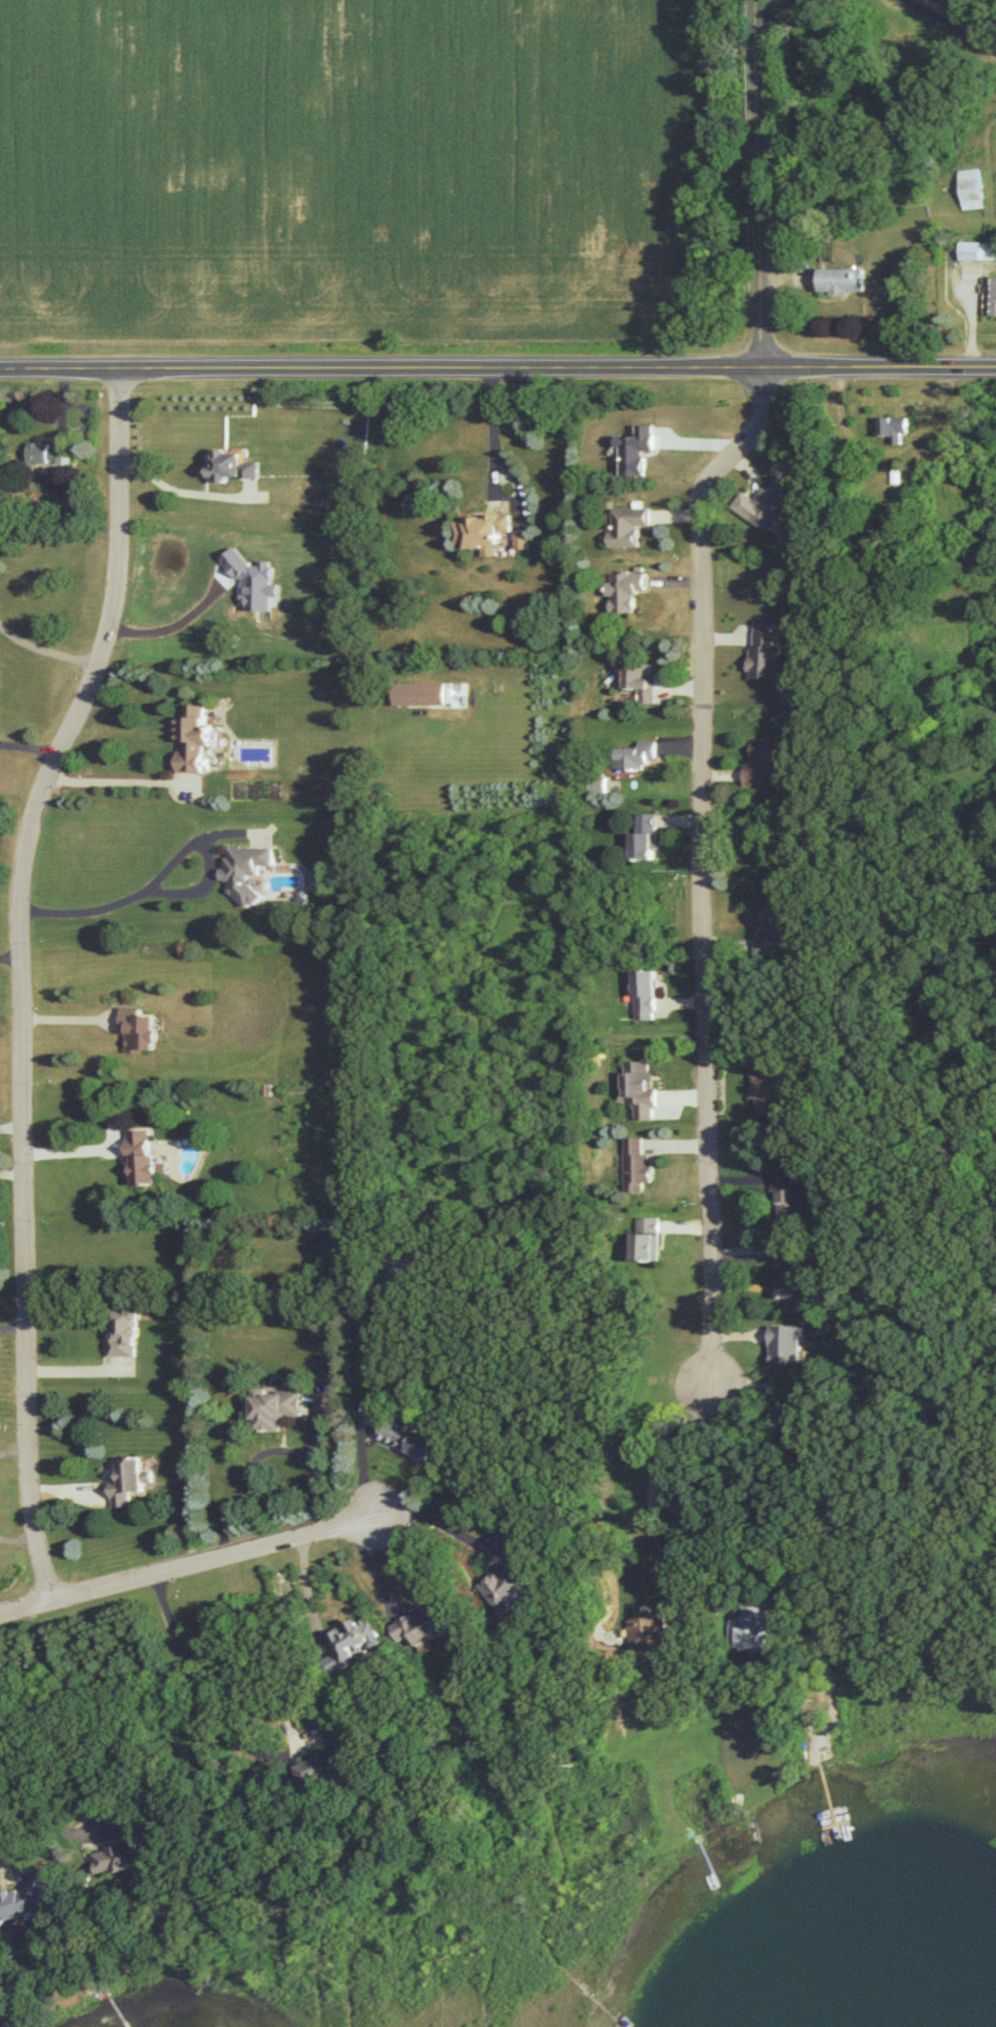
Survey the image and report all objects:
road: (764, 182)
building: (970, 187)
building: (977, 250)
building: (841, 279)
building: (989, 294)
road: (497, 365)
building: (636, 449)
building: (45, 452)
building: (233, 465)
road: (490, 475)
road: (182, 491)
building: (762, 502)
building: (628, 524)
building: (481, 530)
building: (521, 538)
building: (625, 590)
road: (46, 648)
building: (763, 650)
building: (639, 681)
building: (412, 692)
building: (195, 737)
road: (29, 746)
building: (635, 754)
building: (766, 763)
road: (113, 778)
building: (596, 783)
building: (645, 836)
road: (704, 863)
road: (163, 870)
building: (247, 870)
building: (779, 928)
road: (11, 956)
road: (23, 973)
building: (644, 994)
building: (139, 1029)
building: (638, 1087)
building: (775, 1090)
road: (12, 1125)
road: (78, 1147)
building: (142, 1156)
building: (634, 1164)
road: (13, 1171)
building: (787, 1196)
building: (643, 1238)
building: (400, 1269)
building: (788, 1278)
road: (14, 1326)
building: (124, 1333)
building: (783, 1343)
building: (274, 1407)
road: (685, 1425)
building: (409, 1437)
road: (15, 1450)
road: (265, 1454)
building: (128, 1480)
building: (184, 1486)
road: (708, 1512)
road: (441, 1523)
road: (648, 1523)
road: (18, 1537)
road: (193, 1559)
road: (371, 1566)
building: (512, 1572)
road: (314, 1580)
building: (423, 1623)
building: (649, 1629)
building: (351, 1642)
road: (202, 1683)
building: (323, 1756)
road: (31, 1793)
building: (123, 1849)
building: (25, 1895)

